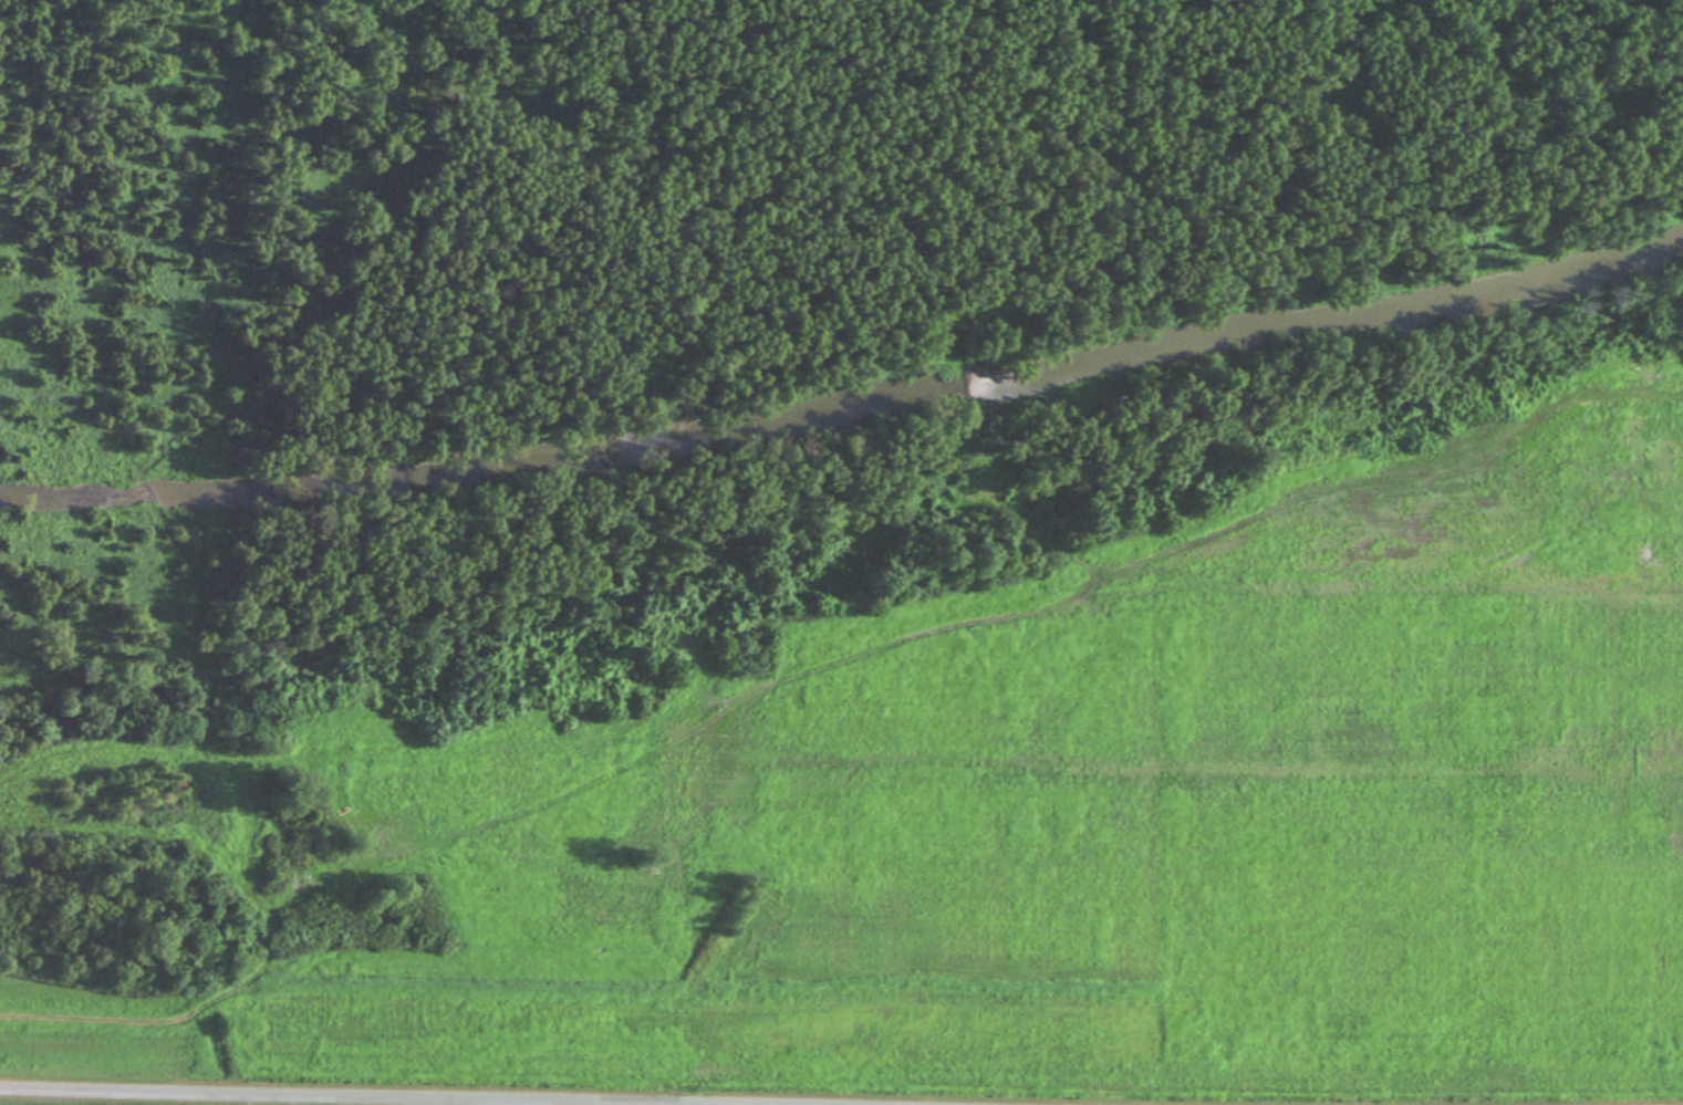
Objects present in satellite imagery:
crop: (100, 1036)
road: (614, 1093)

